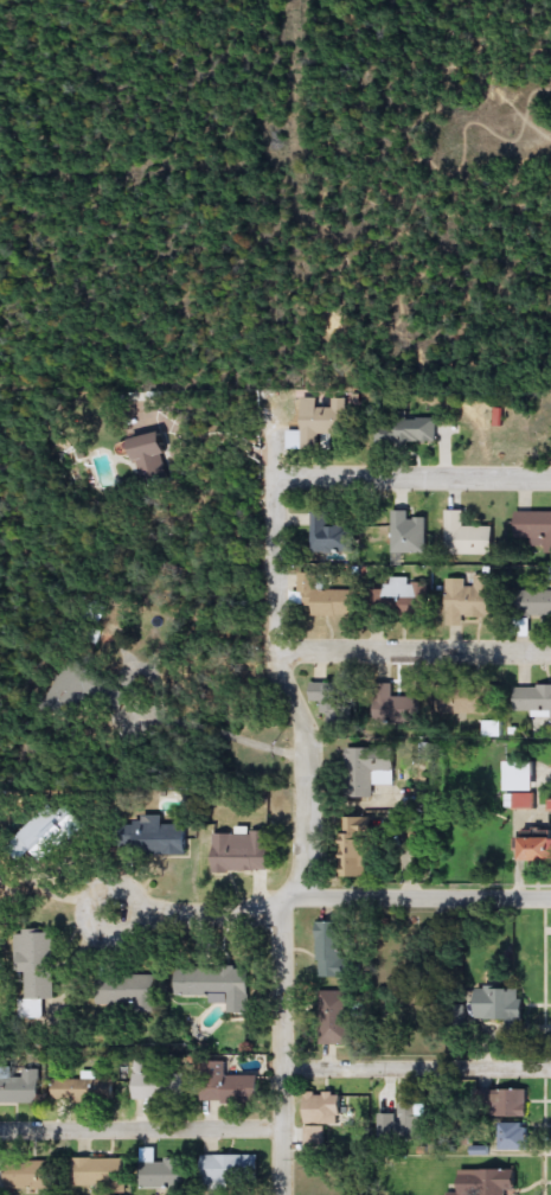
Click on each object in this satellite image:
road: (533, 126)
building: (323, 421)
building: (153, 458)
road: (415, 469)
building: (534, 528)
building: (331, 535)
building: (467, 536)
building: (328, 599)
building: (470, 599)
building: (403, 601)
building: (537, 602)
road: (290, 641)
road: (421, 645)
building: (77, 688)
building: (533, 699)
building: (333, 702)
building: (468, 703)
building: (397, 708)
road: (167, 720)
building: (369, 774)
building: (521, 777)
building: (46, 832)
building: (156, 838)
building: (358, 848)
building: (538, 850)
building: (243, 852)
road: (421, 897)
road: (182, 906)
building: (331, 951)
building: (37, 966)
building: (218, 985)
building: (127, 991)
building: (501, 1005)
building: (337, 1017)
road: (281, 1044)
road: (416, 1069)
building: (20, 1085)
building: (161, 1086)
building: (233, 1088)
building: (85, 1089)
building: (506, 1101)
building: (322, 1117)
road: (139, 1121)
building: (402, 1125)
building: (512, 1136)
building: (232, 1169)
building: (101, 1172)
building: (166, 1174)
building: (30, 1175)
building: (489, 1182)

